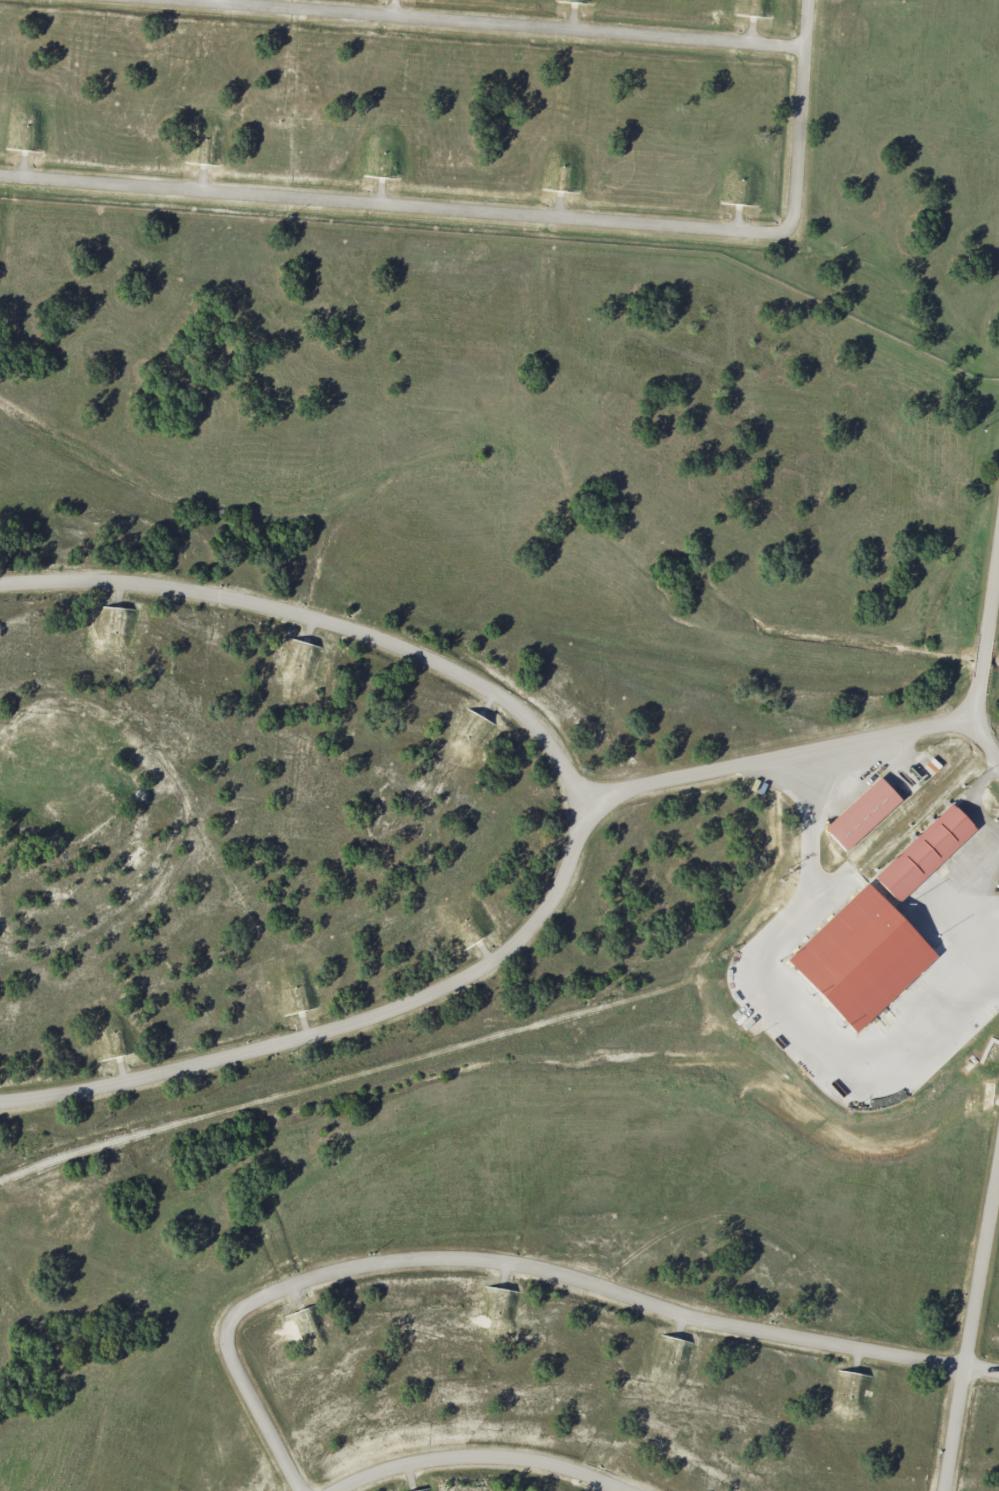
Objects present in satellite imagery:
road: (491, 24)
road: (801, 117)
road: (390, 206)
road: (326, 617)
road: (983, 658)
road: (776, 760)
building: (920, 777)
building: (862, 813)
building: (924, 852)
building: (861, 957)
road: (344, 1025)
road: (520, 1264)
road: (972, 1328)
road: (481, 1461)

